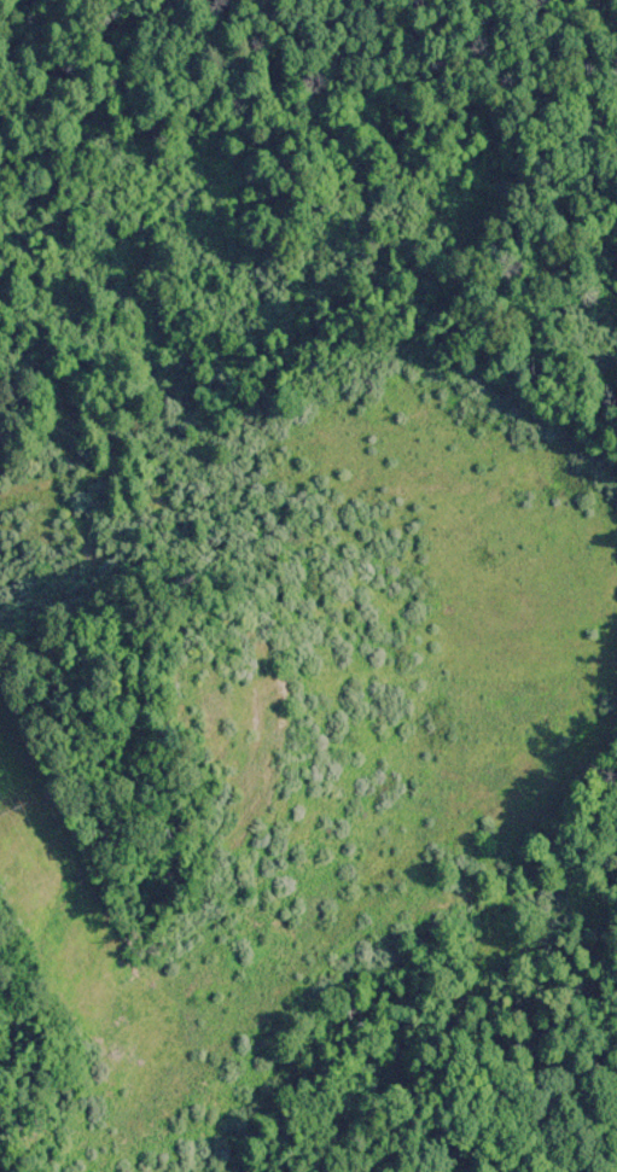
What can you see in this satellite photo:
power tower: (6, 806)

